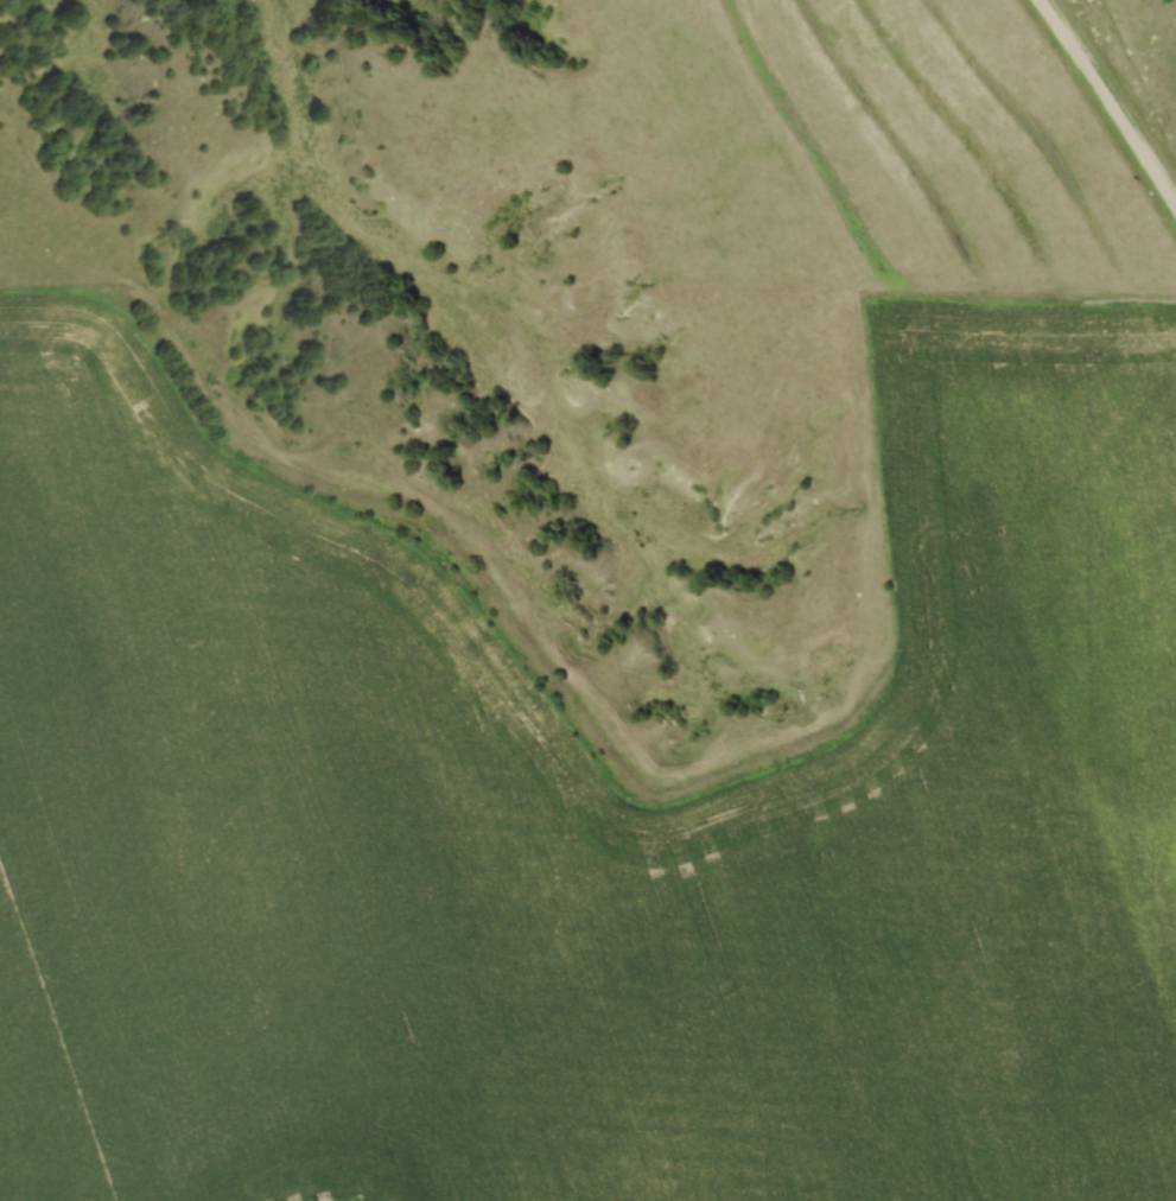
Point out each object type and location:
road: (1111, 99)

